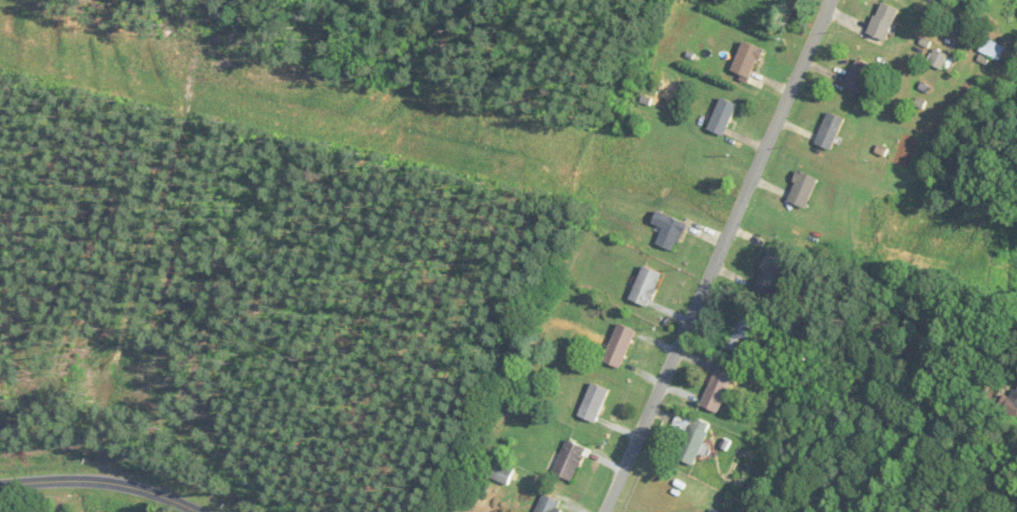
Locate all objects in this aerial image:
building: (718, 0)
building: (884, 21)
building: (994, 49)
building: (747, 60)
building: (941, 60)
building: (860, 76)
building: (723, 117)
building: (831, 131)
building: (704, 155)
building: (697, 175)
building: (803, 190)
building: (669, 231)
road: (720, 256)
building: (770, 275)
building: (646, 286)
building: (743, 334)
building: (620, 346)
building: (718, 391)
building: (1013, 400)
building: (594, 403)
building: (692, 437)
building: (570, 461)
building: (502, 474)
road: (102, 481)
building: (549, 505)
building: (711, 511)

